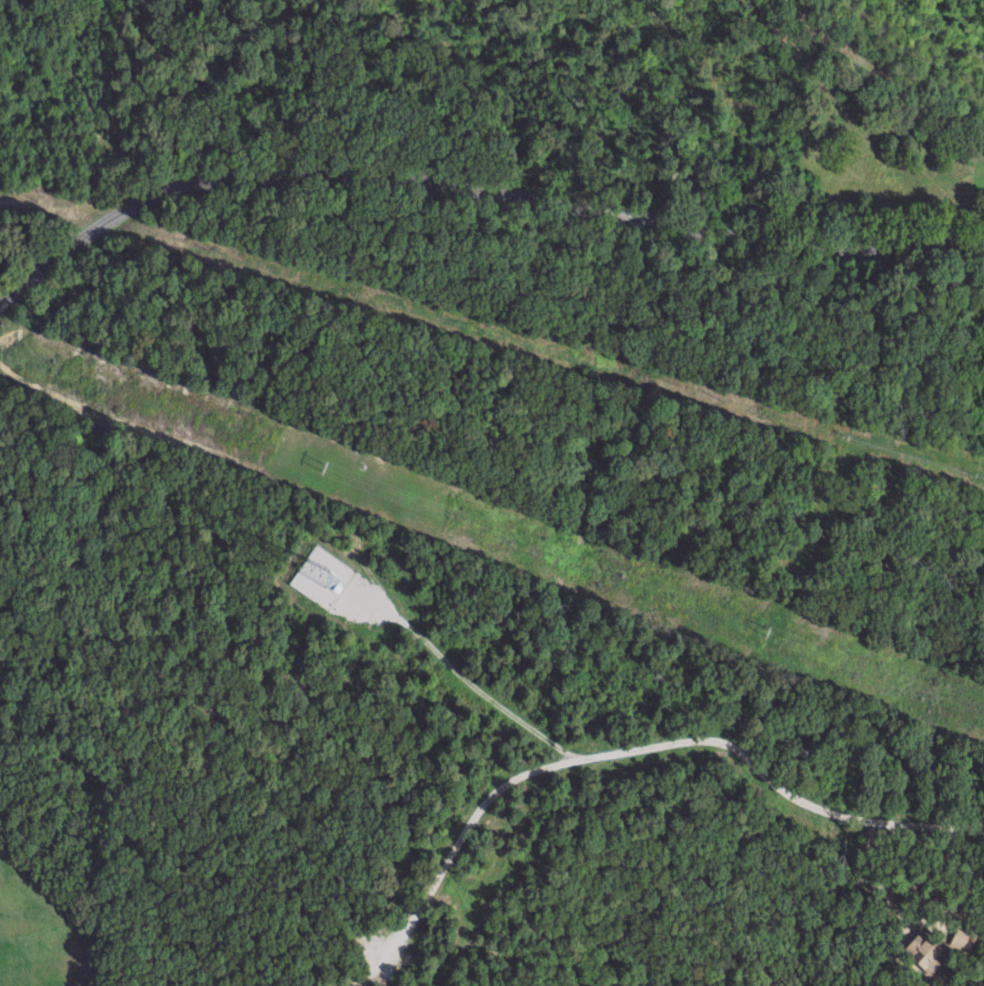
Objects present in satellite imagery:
road: (478, 188)
power tower: (327, 468)
power tower: (768, 630)
road: (494, 793)
road: (845, 817)
building: (962, 938)
building: (925, 951)

